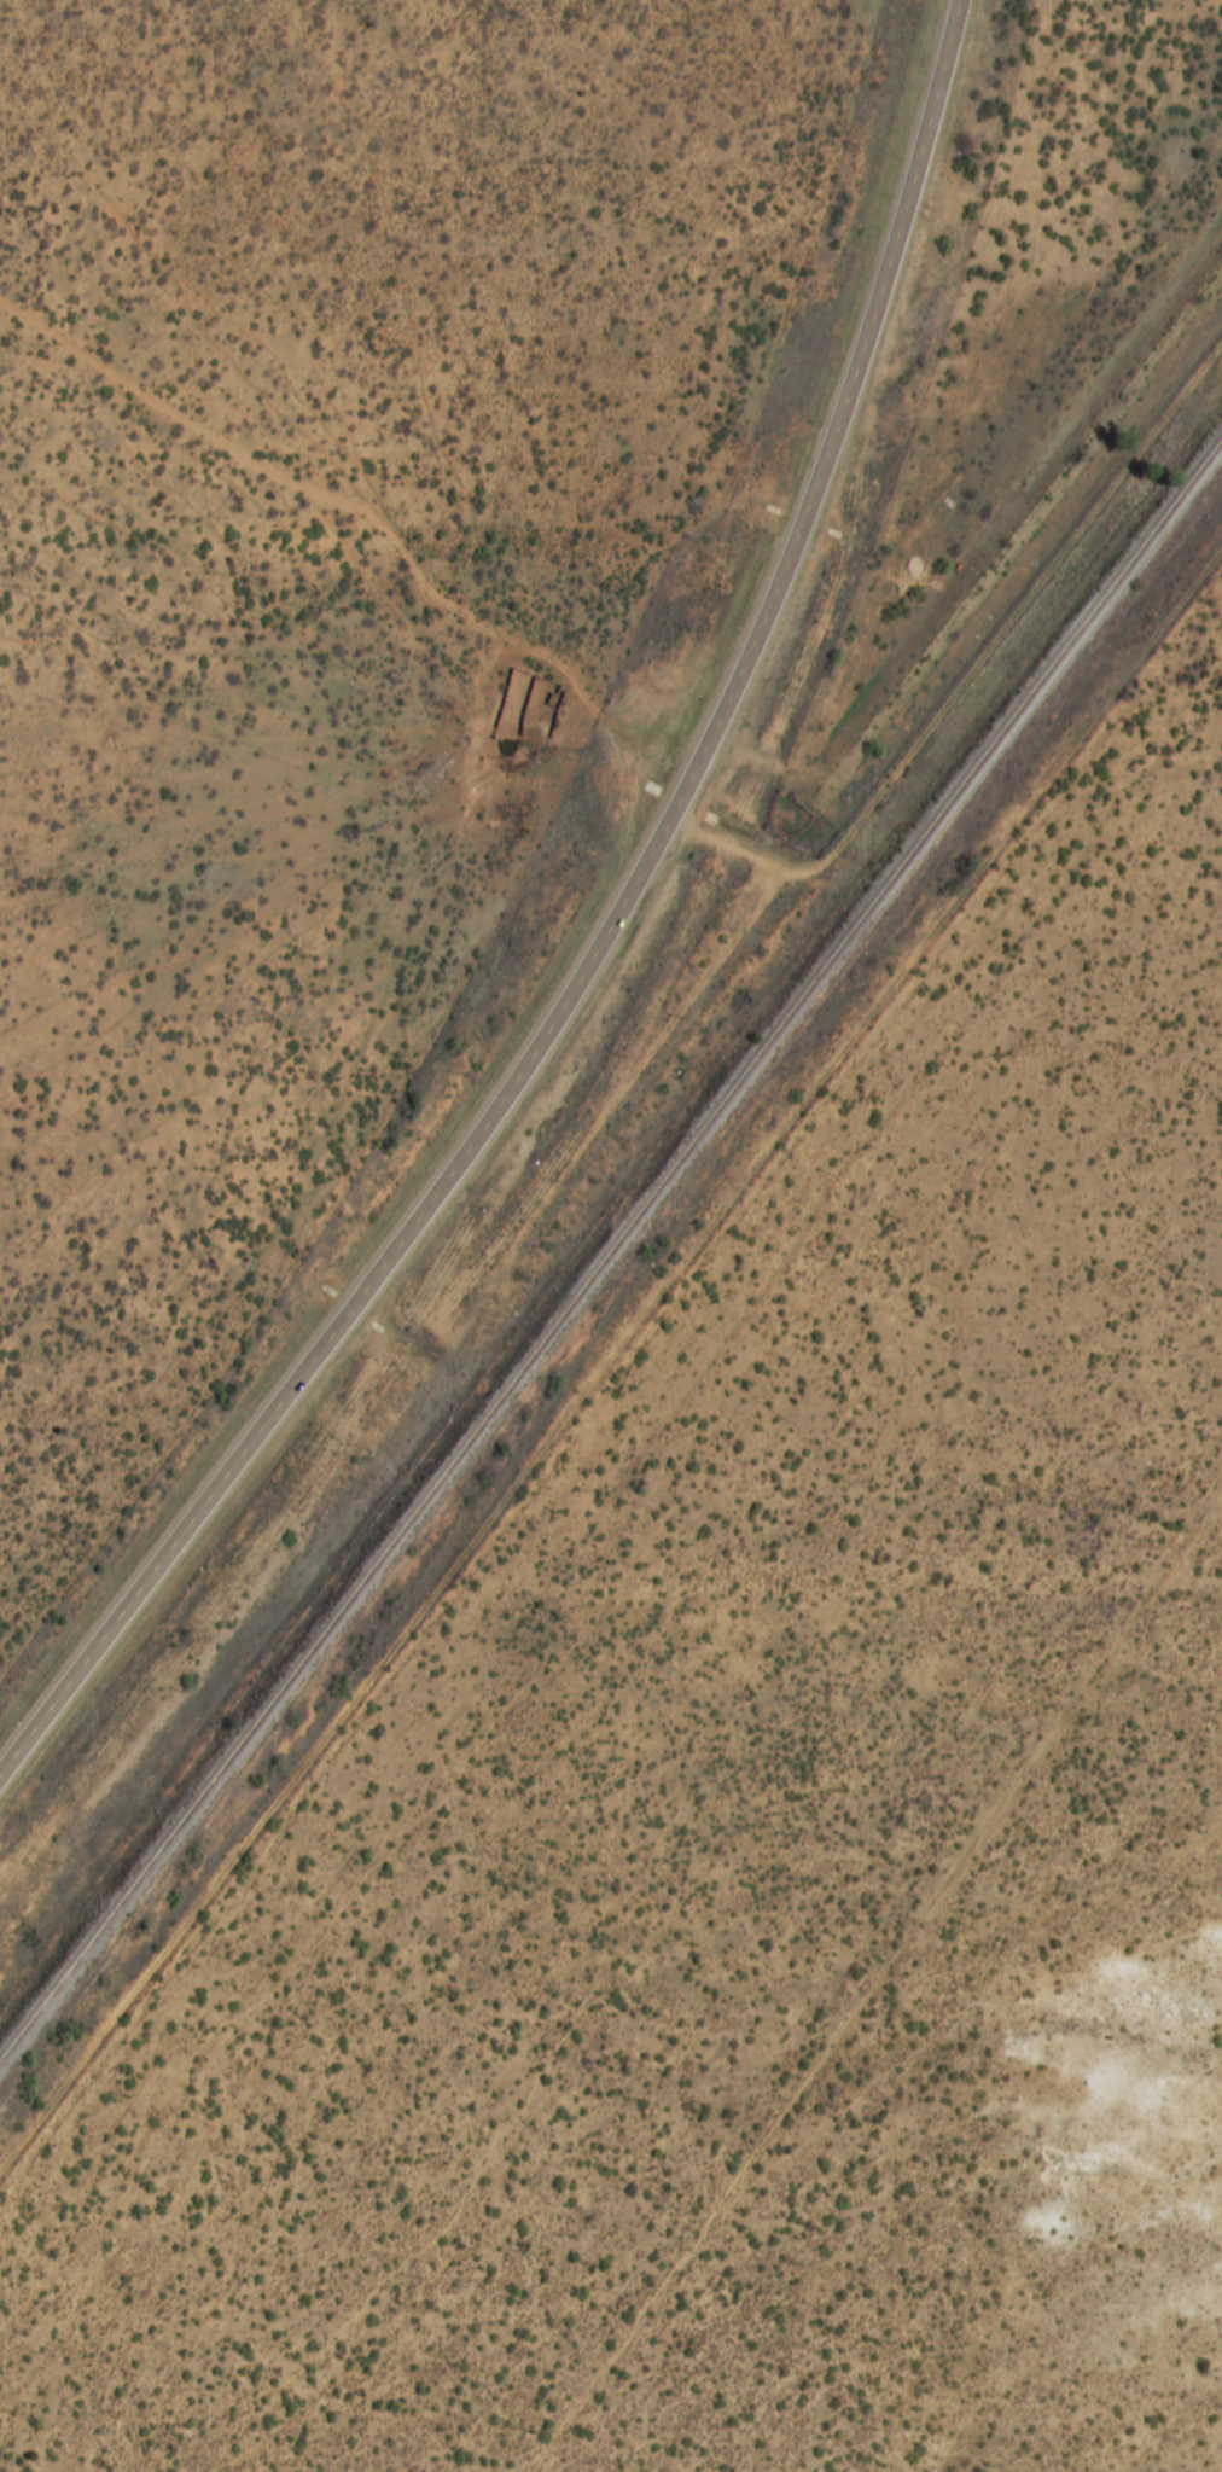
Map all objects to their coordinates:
road: (971, 646)
road: (627, 896)
railway: (611, 1247)
road: (36, 1724)

